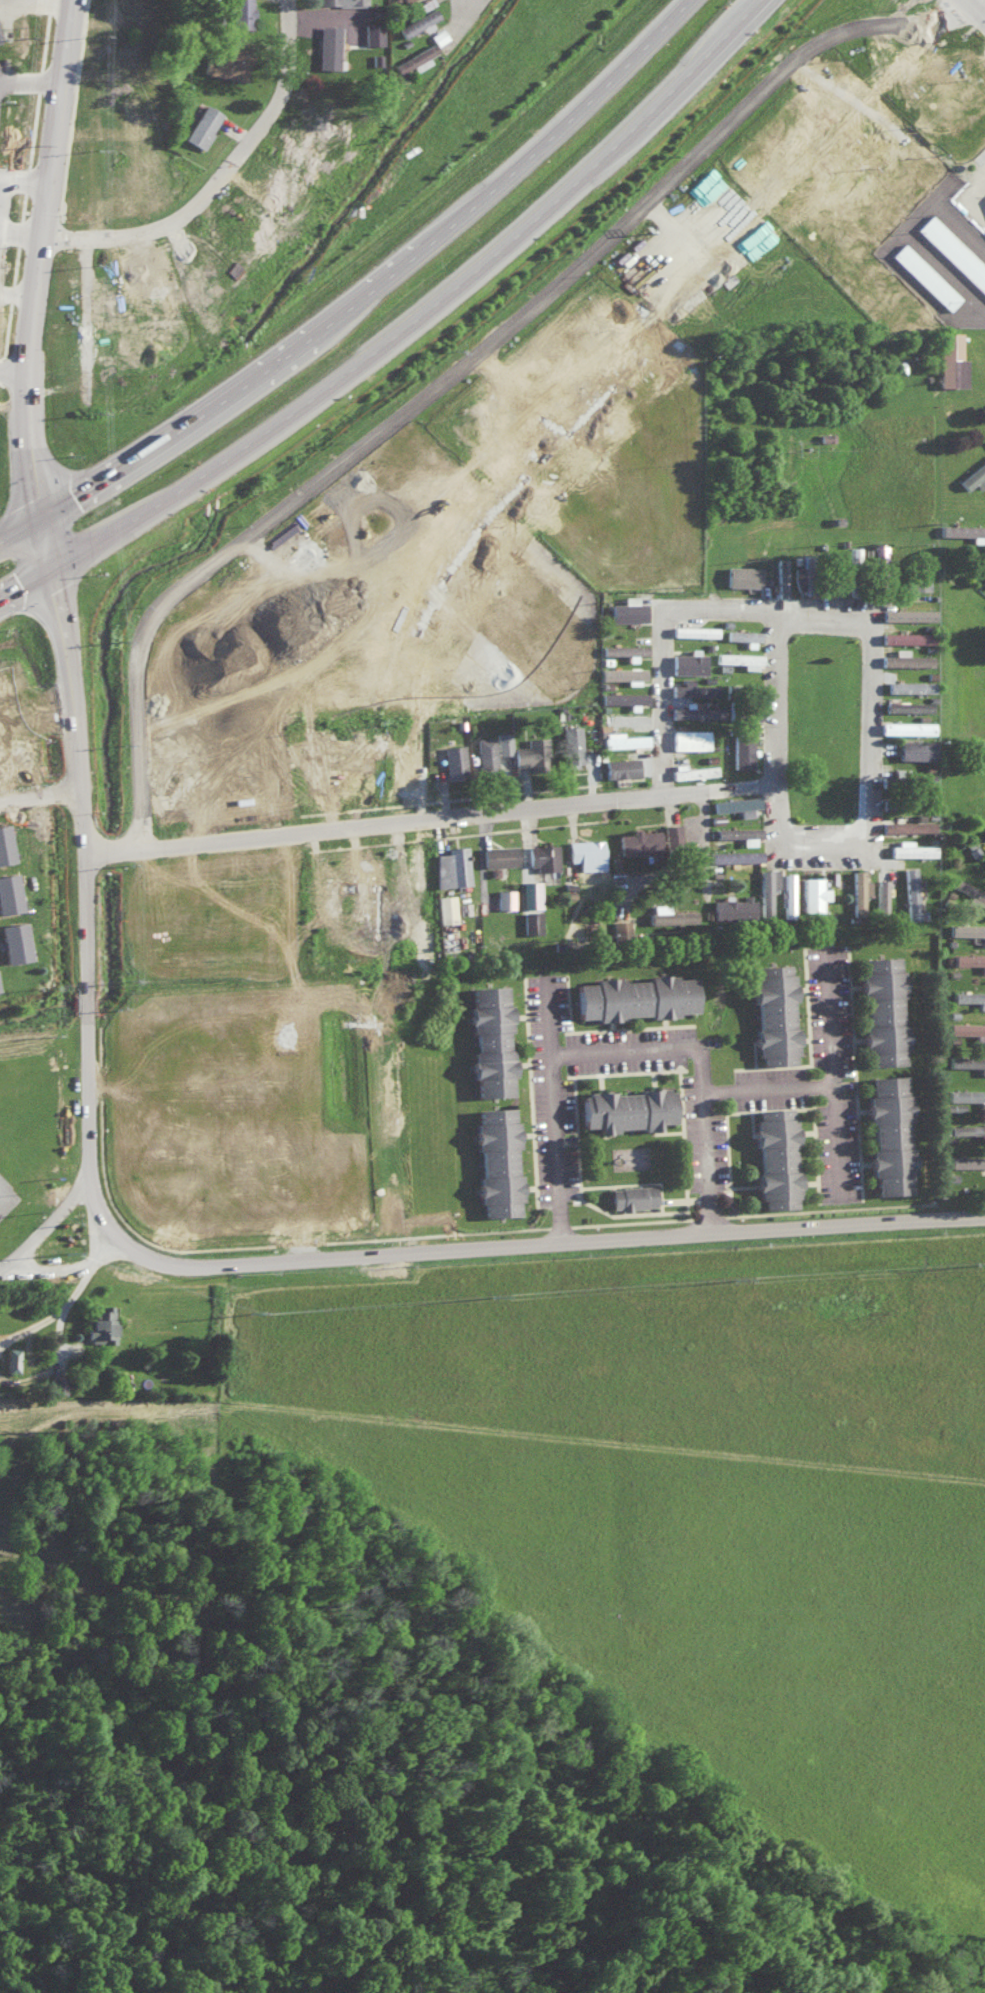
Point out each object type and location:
building: (341, 2)
road: (749, 4)
road: (468, 5)
road: (69, 7)
road: (976, 8)
building: (237, 12)
building: (417, 22)
road: (725, 30)
building: (372, 33)
building: (437, 36)
building: (328, 47)
road: (287, 57)
building: (415, 60)
building: (226, 64)
building: (929, 73)
road: (42, 87)
road: (13, 88)
road: (2, 121)
building: (202, 125)
building: (879, 125)
building: (852, 152)
road: (50, 154)
road: (460, 173)
road: (4, 177)
road: (25, 179)
building: (826, 180)
road: (27, 239)
building: (831, 239)
building: (953, 250)
road: (6, 258)
road: (3, 261)
road: (419, 265)
building: (925, 275)
road: (28, 295)
road: (2, 296)
road: (434, 318)
road: (58, 340)
road: (2, 345)
building: (950, 359)
road: (214, 377)
road: (434, 391)
road: (110, 409)
road: (74, 424)
road: (55, 437)
road: (121, 439)
traffic signals: (81, 462)
building: (974, 475)
road: (40, 485)
road: (89, 512)
road: (475, 513)
building: (962, 529)
road: (28, 548)
building: (879, 551)
road: (99, 564)
road: (99, 565)
building: (919, 572)
building: (742, 575)
building: (798, 576)
building: (983, 579)
building: (831, 589)
road: (33, 603)
building: (627, 609)
building: (907, 613)
building: (694, 630)
building: (742, 634)
building: (906, 636)
road: (670, 644)
building: (623, 648)
road: (427, 650)
building: (739, 658)
building: (904, 658)
building: (687, 663)
building: (623, 673)
road: (69, 686)
building: (910, 686)
building: (691, 688)
road: (143, 693)
building: (623, 696)
road: (785, 699)
building: (907, 705)
road: (125, 707)
building: (695, 711)
road: (83, 713)
road: (12, 715)
building: (906, 726)
building: (12, 738)
building: (689, 738)
building: (623, 739)
building: (503, 742)
building: (571, 745)
building: (916, 749)
building: (741, 750)
building: (531, 752)
building: (485, 754)
building: (453, 759)
building: (620, 766)
road: (878, 770)
building: (693, 771)
building: (250, 775)
road: (603, 781)
road: (518, 785)
road: (454, 788)
road: (693, 789)
road: (150, 801)
building: (736, 804)
road: (432, 806)
road: (485, 810)
building: (907, 825)
road: (715, 830)
building: (739, 833)
building: (650, 838)
building: (4, 843)
road: (83, 849)
building: (911, 849)
building: (984, 850)
building: (581, 852)
building: (498, 854)
building: (541, 855)
building: (734, 855)
road: (539, 856)
road: (493, 859)
building: (451, 866)
road: (666, 884)
road: (716, 887)
building: (766, 889)
building: (880, 889)
building: (858, 890)
building: (8, 892)
building: (910, 892)
building: (529, 893)
building: (812, 893)
building: (788, 894)
building: (971, 894)
road: (183, 895)
building: (504, 898)
building: (185, 904)
building: (446, 908)
building: (732, 908)
building: (240, 911)
building: (671, 915)
building: (531, 921)
building: (620, 926)
building: (968, 929)
building: (12, 941)
road: (201, 948)
building: (970, 959)
road: (86, 993)
road: (218, 996)
building: (633, 996)
building: (970, 997)
building: (882, 1010)
building: (773, 1012)
building: (260, 1017)
building: (162, 1025)
building: (968, 1029)
building: (489, 1040)
building: (263, 1051)
building: (162, 1055)
building: (968, 1061)
road: (708, 1069)
road: (843, 1078)
building: (260, 1088)
building: (968, 1095)
road: (778, 1096)
building: (162, 1100)
building: (626, 1108)
road: (260, 1114)
road: (561, 1116)
building: (260, 1122)
building: (966, 1129)
building: (162, 1131)
building: (889, 1134)
building: (775, 1157)
building: (966, 1160)
building: (496, 1161)
building: (167, 1167)
building: (346, 1181)
building: (315, 1183)
building: (278, 1186)
building: (243, 1187)
building: (631, 1196)
building: (183, 1199)
road: (960, 1214)
road: (114, 1225)
road: (615, 1236)
road: (65, 1264)
road: (75, 1284)
road: (32, 1321)
building: (100, 1325)
building: (11, 1359)
road: (55, 1362)
building: (57, 1384)

